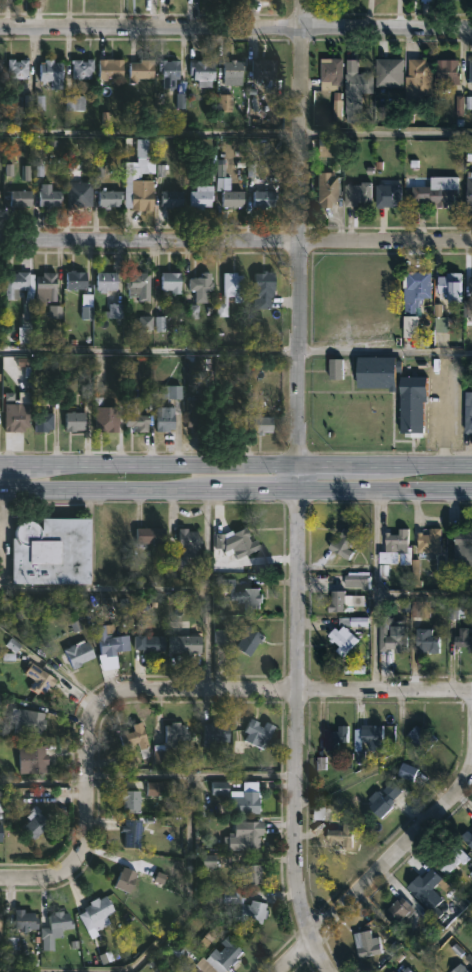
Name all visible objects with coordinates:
building: (429, 0)
road: (235, 26)
building: (1, 68)
building: (84, 68)
building: (20, 69)
building: (112, 69)
building: (264, 69)
building: (143, 70)
building: (444, 70)
building: (469, 71)
building: (204, 72)
building: (391, 72)
building: (53, 73)
building: (171, 74)
building: (334, 74)
building: (420, 76)
building: (230, 83)
building: (357, 91)
road: (149, 134)
road: (385, 134)
building: (327, 147)
building: (141, 176)
building: (229, 190)
building: (329, 190)
building: (467, 190)
building: (434, 192)
building: (359, 194)
building: (0, 195)
building: (51, 196)
building: (204, 196)
building: (387, 196)
building: (83, 197)
building: (110, 198)
building: (23, 199)
building: (173, 199)
building: (266, 199)
road: (236, 241)
building: (78, 280)
building: (108, 282)
building: (173, 282)
building: (49, 284)
building: (451, 284)
building: (469, 285)
building: (140, 286)
building: (202, 286)
building: (265, 289)
building: (418, 292)
building: (231, 293)
building: (28, 308)
building: (88, 308)
building: (116, 313)
road: (148, 346)
road: (383, 351)
building: (336, 371)
building: (382, 373)
building: (418, 405)
building: (469, 413)
building: (196, 414)
building: (137, 419)
building: (165, 419)
building: (17, 421)
building: (76, 421)
building: (233, 421)
building: (109, 422)
building: (44, 423)
building: (264, 424)
road: (236, 463)
road: (236, 489)
road: (293, 490)
building: (152, 535)
building: (392, 539)
building: (115, 540)
building: (238, 541)
building: (346, 543)
building: (426, 543)
building: (461, 546)
building: (188, 548)
building: (52, 550)
building: (357, 583)
road: (209, 589)
road: (375, 589)
building: (241, 593)
building: (339, 601)
building: (418, 609)
building: (112, 639)
building: (250, 639)
building: (423, 640)
building: (461, 640)
building: (338, 641)
building: (393, 641)
building: (153, 643)
building: (188, 644)
building: (80, 653)
building: (39, 678)
road: (164, 690)
building: (28, 721)
building: (215, 733)
building: (260, 733)
building: (136, 736)
building: (375, 736)
building: (337, 737)
building: (171, 739)
building: (424, 741)
building: (38, 759)
building: (408, 772)
road: (194, 775)
building: (251, 797)
building: (385, 798)
building: (132, 800)
building: (37, 822)
building: (2, 832)
building: (133, 833)
building: (343, 835)
building: (247, 836)
building: (468, 836)
building: (449, 859)
road: (376, 869)
building: (249, 874)
building: (127, 879)
building: (423, 888)
building: (242, 905)
building: (402, 909)
building: (100, 911)
building: (25, 920)
building: (1, 926)
building: (57, 929)
road: (447, 929)
road: (398, 930)
road: (160, 940)
building: (370, 944)
building: (225, 957)
building: (461, 969)
building: (409, 970)
building: (202, 971)
building: (394, 971)

